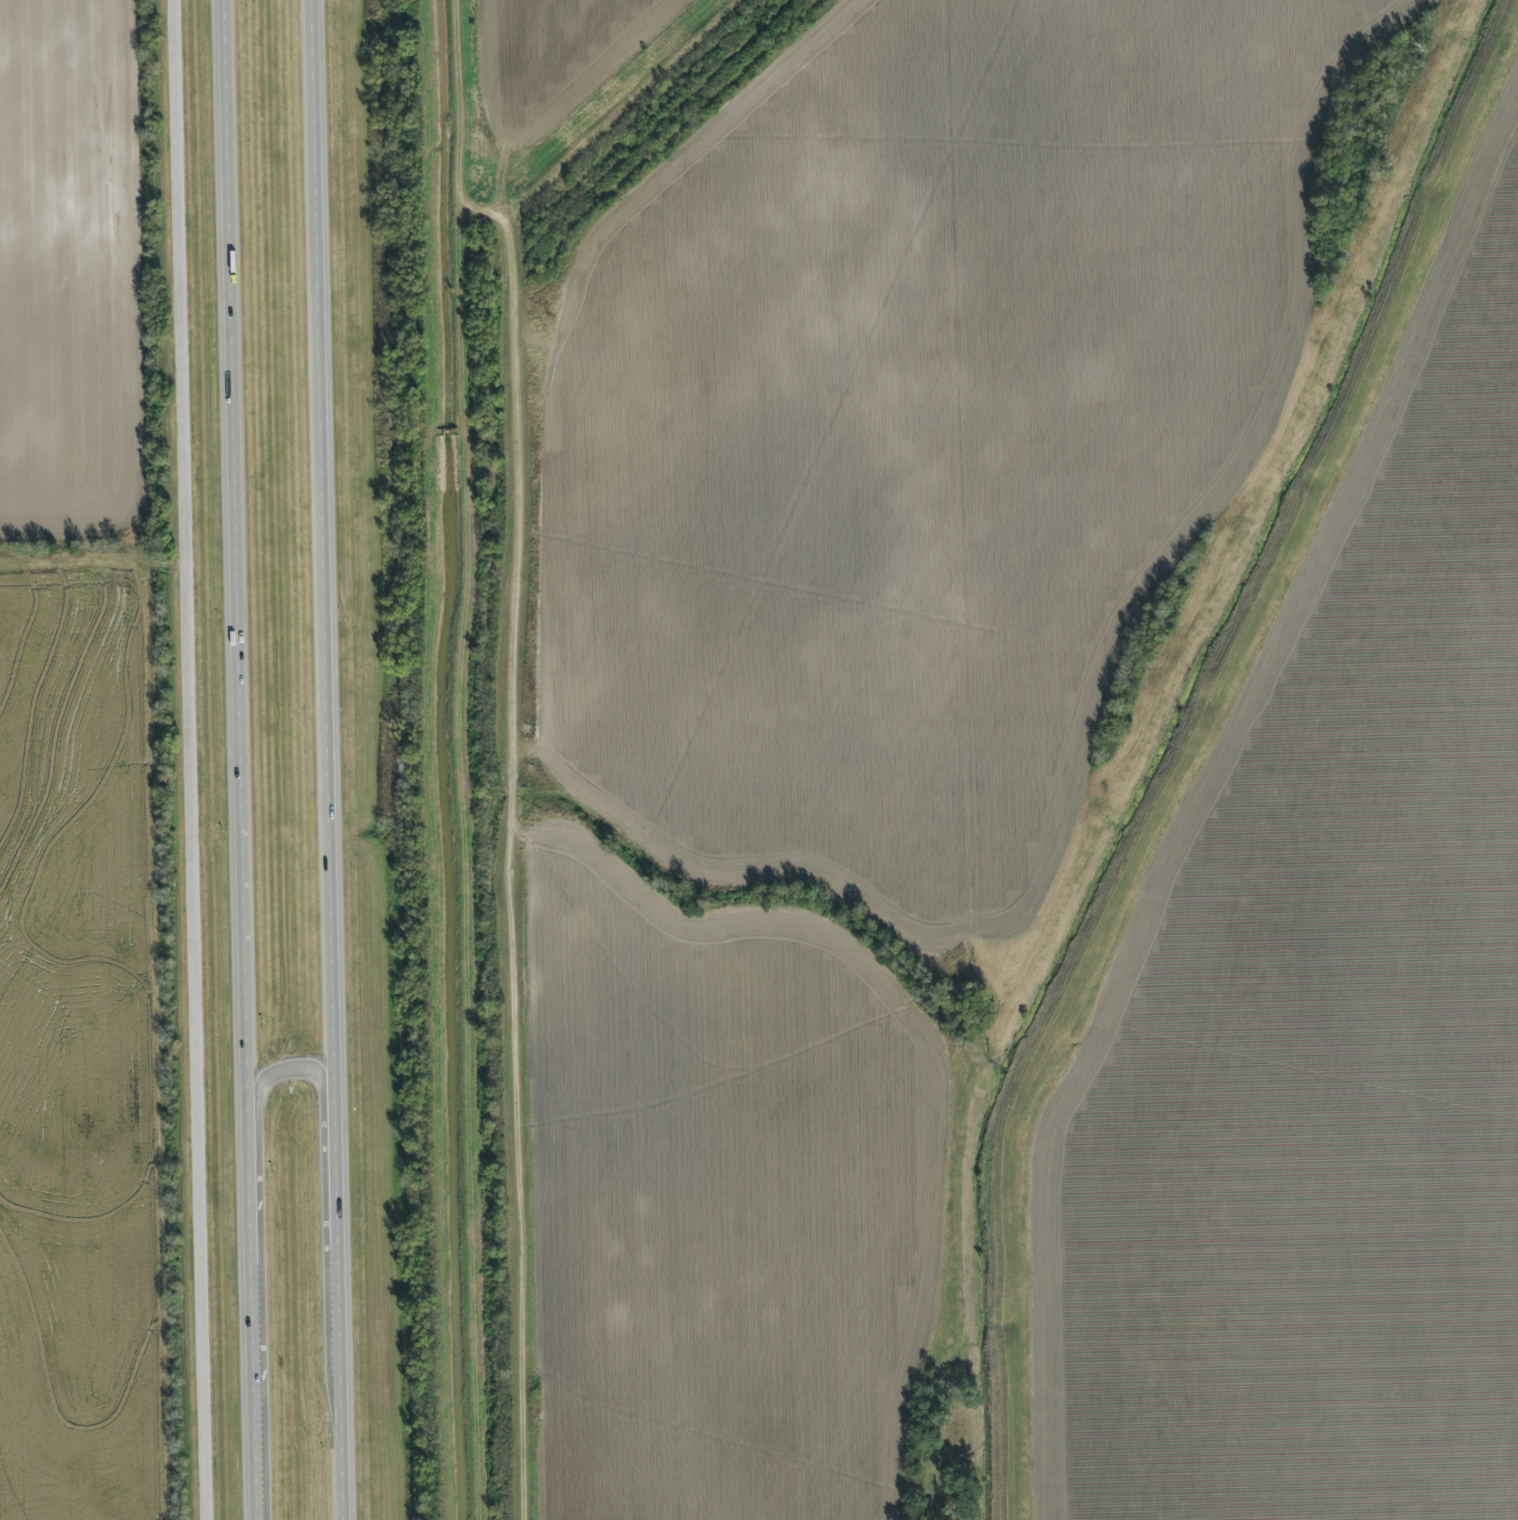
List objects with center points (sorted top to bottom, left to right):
river: (1150, 743)
road: (242, 759)
road: (332, 759)
road: (193, 760)
road: (515, 1108)

